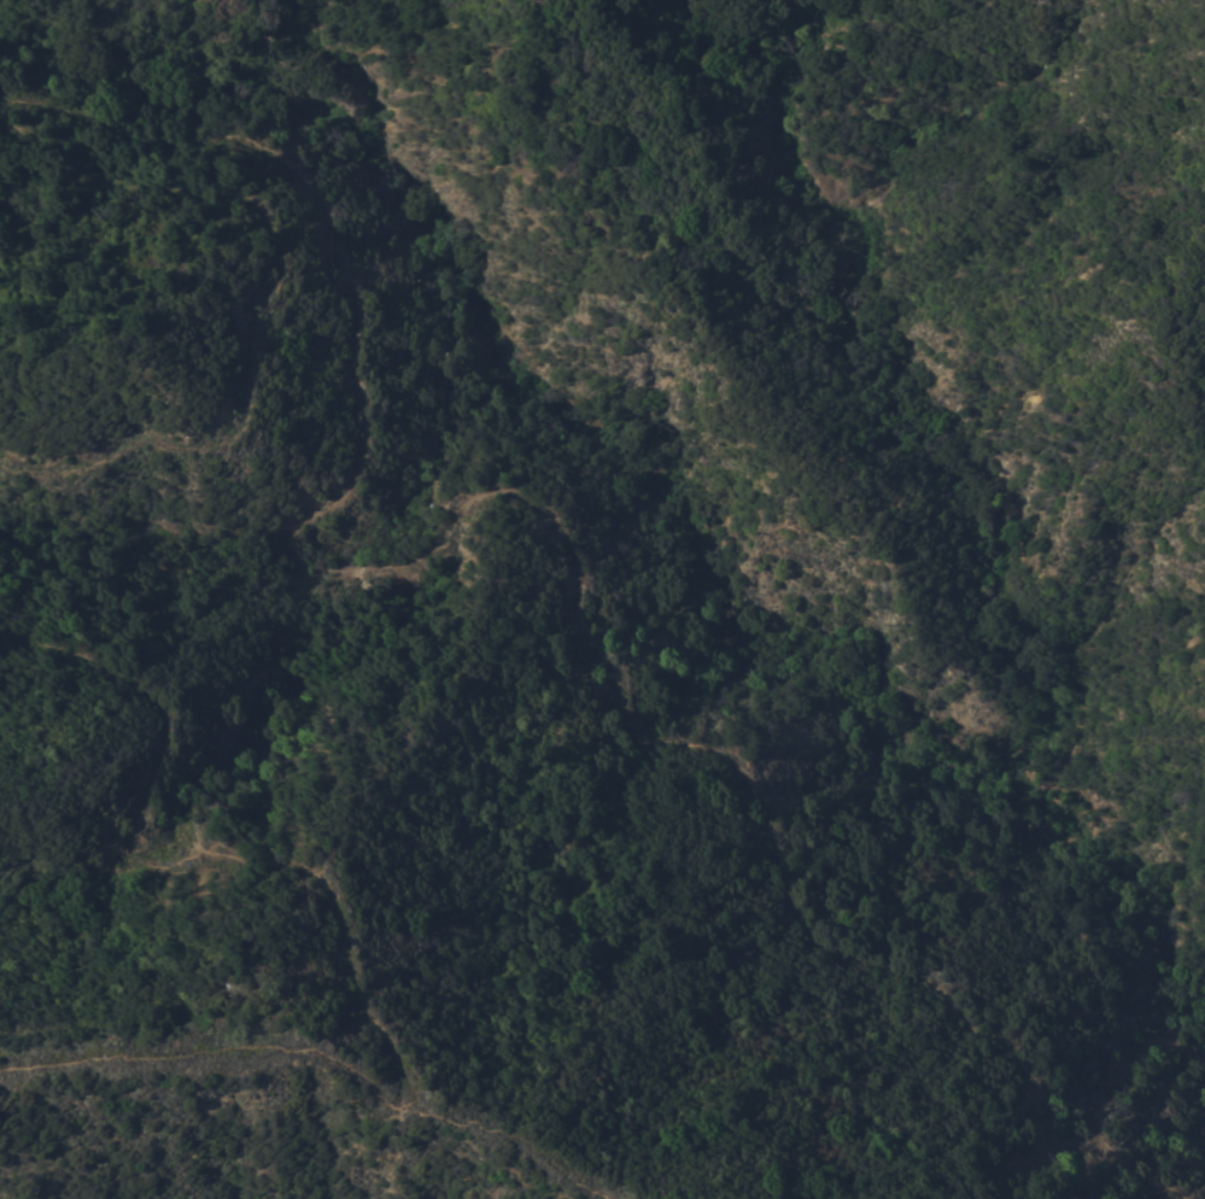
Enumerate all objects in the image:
road: (125, 171)
road: (327, 1053)

